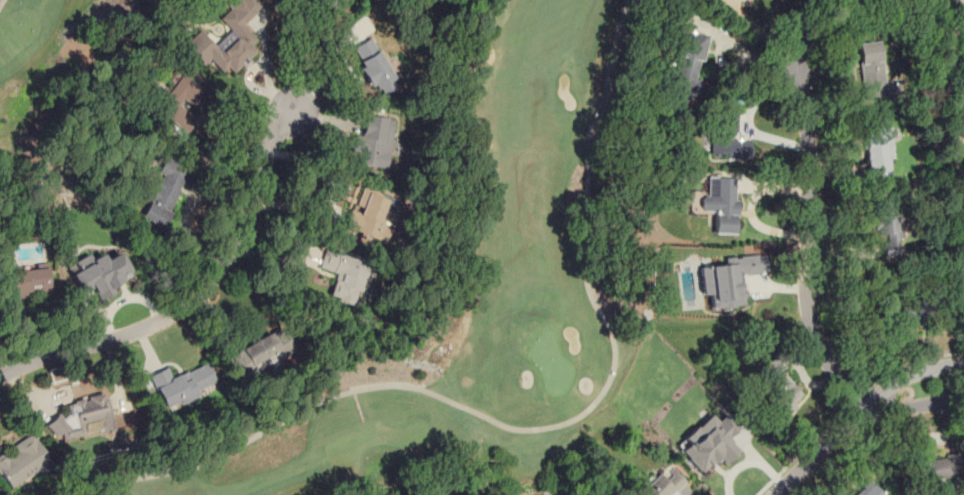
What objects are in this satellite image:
building: (848, 0)
road: (1, 2)
road: (756, 30)
building: (228, 38)
building: (962, 38)
park: (36, 47)
road: (294, 60)
building: (689, 66)
building: (374, 67)
building: (871, 69)
building: (181, 102)
building: (728, 137)
building: (373, 142)
building: (878, 152)
road: (212, 165)
building: (166, 192)
road: (333, 194)
building: (721, 203)
building: (370, 212)
building: (886, 223)
road: (808, 240)
building: (99, 273)
building: (344, 275)
building: (27, 280)
building: (729, 280)
road: (194, 295)
park: (465, 309)
building: (260, 353)
road: (910, 364)
road: (909, 375)
building: (183, 385)
building: (774, 392)
road: (855, 401)
road: (915, 405)
building: (85, 415)
road: (546, 427)
building: (709, 443)
road: (819, 451)
road: (802, 452)
building: (21, 461)
building: (939, 467)
building: (662, 484)
building: (870, 491)

